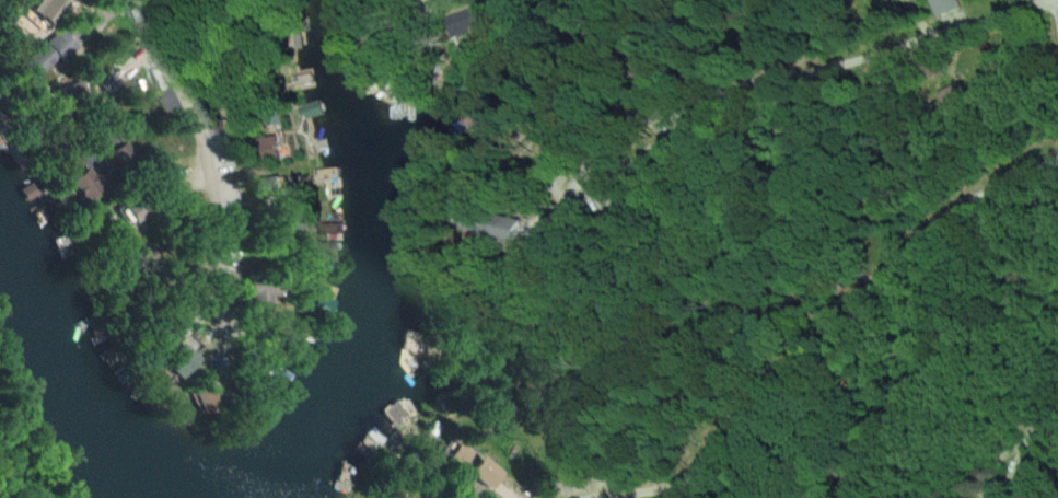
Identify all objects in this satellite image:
building: (949, 7)
building: (47, 9)
road: (919, 16)
building: (49, 53)
road: (766, 81)
building: (74, 94)
road: (199, 159)
building: (84, 184)
building: (283, 188)
building: (472, 222)
building: (259, 293)
road: (852, 306)
building: (183, 361)
road: (1028, 431)
building: (473, 466)
road: (643, 491)
building: (395, 496)

